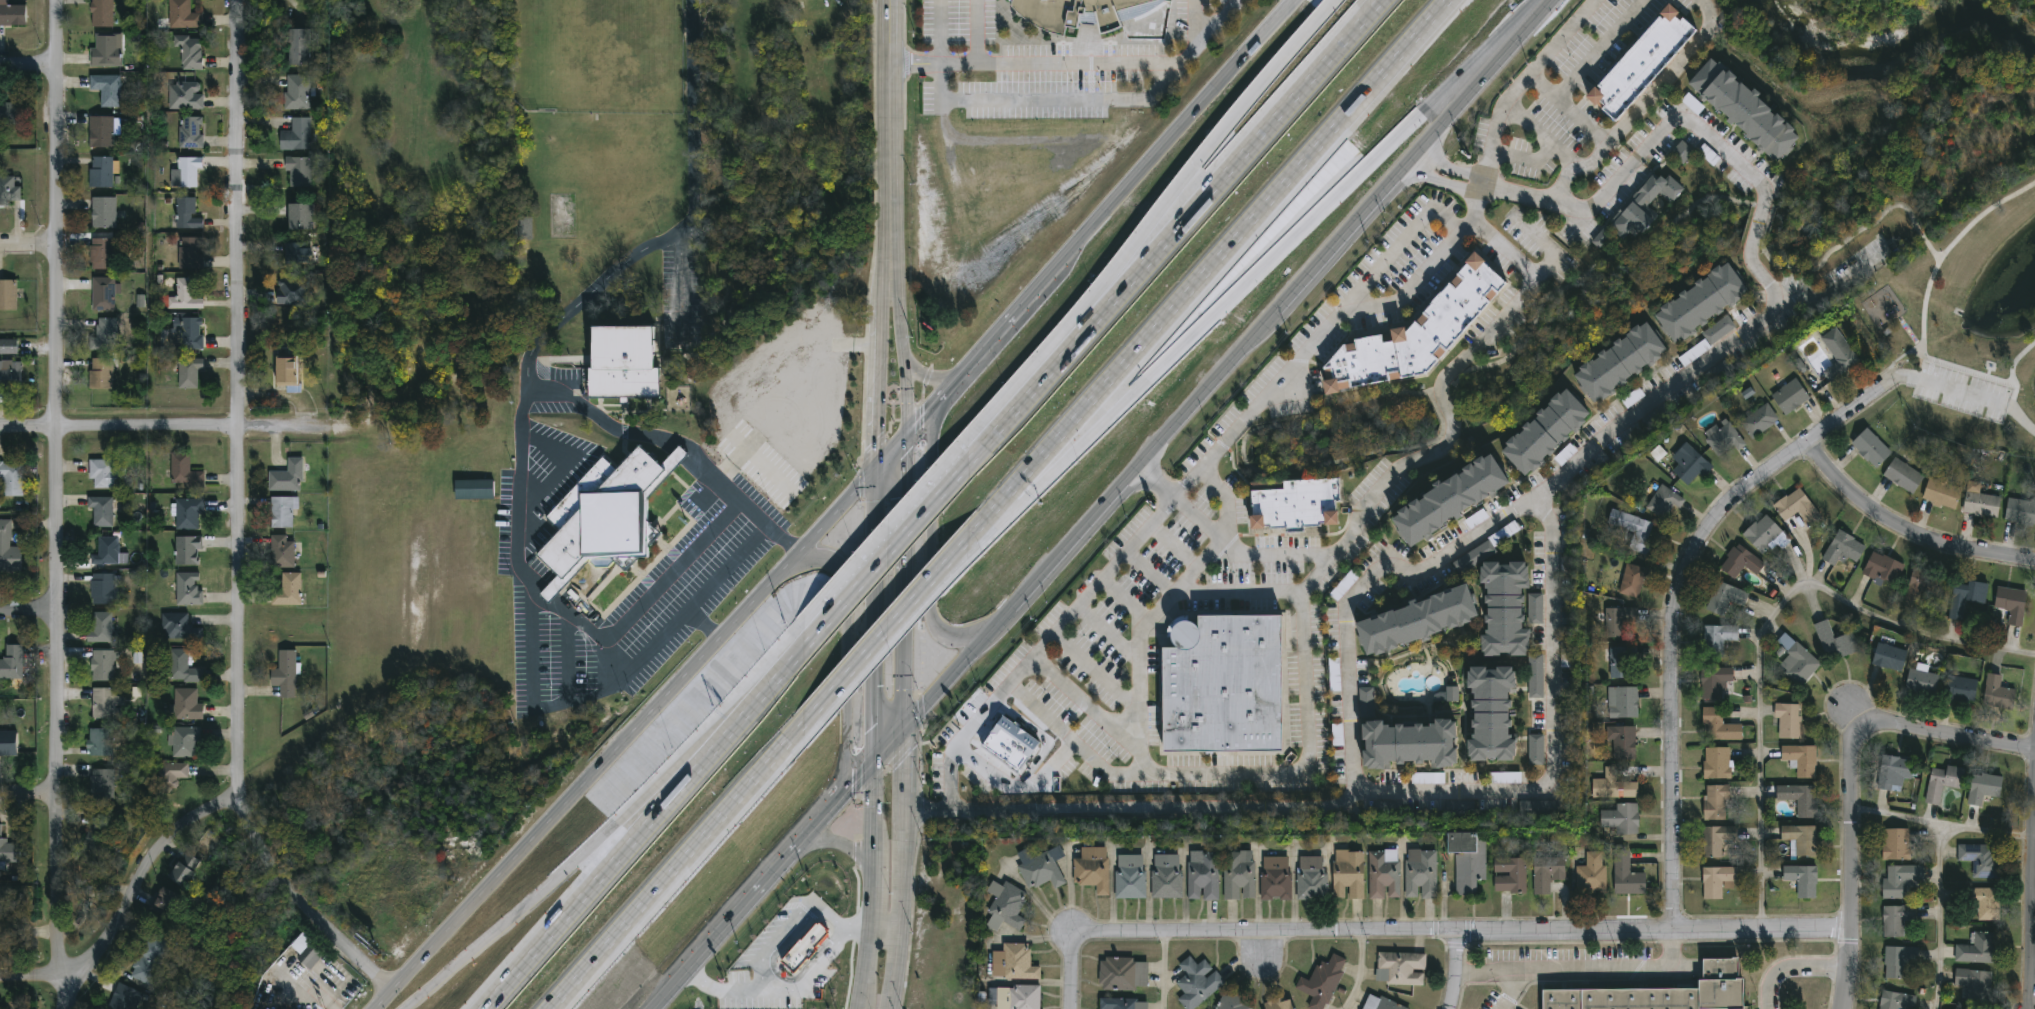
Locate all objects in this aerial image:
building: (1082, 13)
building: (101, 14)
building: (12, 16)
building: (182, 16)
road: (1217, 21)
road: (939, 32)
road: (976, 32)
building: (299, 48)
road: (1601, 49)
building: (106, 52)
building: (189, 52)
road: (27, 63)
building: (1641, 63)
road: (1069, 65)
road: (1484, 76)
road: (1525, 82)
building: (107, 90)
building: (297, 93)
building: (185, 95)
road: (1049, 100)
road: (1647, 106)
road: (1573, 110)
building: (1743, 111)
building: (10, 114)
road: (1179, 124)
building: (101, 133)
building: (191, 134)
road: (1711, 135)
building: (296, 136)
road: (888, 136)
road: (1542, 138)
building: (1682, 152)
road: (1526, 159)
building: (188, 172)
building: (103, 173)
building: (299, 174)
building: (9, 191)
road: (1532, 195)
road: (1168, 199)
road: (1197, 204)
building: (1643, 206)
building: (103, 214)
building: (187, 215)
building: (300, 218)
road: (1766, 225)
road: (1756, 226)
road: (1917, 228)
building: (523, 229)
road: (1344, 231)
building: (1601, 238)
road: (28, 244)
road: (1838, 245)
park: (1797, 246)
road: (1931, 248)
building: (190, 254)
building: (300, 254)
building: (101, 255)
road: (1204, 268)
road: (1261, 271)
road: (1585, 274)
road: (1419, 278)
road: (1034, 291)
building: (293, 292)
building: (104, 294)
building: (8, 296)
building: (184, 297)
building: (1700, 305)
road: (1923, 320)
building: (1718, 330)
building: (189, 333)
building: (1416, 334)
building: (105, 335)
building: (9, 347)
road: (906, 351)
building: (1837, 353)
road: (980, 354)
road: (2015, 358)
road: (1897, 359)
building: (622, 364)
building: (1619, 365)
road: (879, 369)
building: (286, 373)
road: (928, 374)
building: (1719, 374)
building: (101, 375)
building: (189, 375)
building: (11, 377)
road: (1941, 383)
road: (1207, 387)
parking lot: (1963, 390)
road: (788, 392)
building: (1789, 396)
road: (236, 399)
road: (526, 399)
road: (935, 404)
road: (2008, 404)
building: (1758, 420)
road: (172, 427)
traffic signals: (909, 431)
building: (1545, 433)
road: (990, 435)
road: (680, 439)
building: (1723, 439)
building: (1870, 447)
road: (892, 449)
road: (1419, 456)
building: (1690, 466)
traffic signals: (875, 467)
road: (1262, 469)
road: (1570, 469)
building: (185, 474)
building: (1902, 474)
building: (103, 475)
building: (288, 478)
building: (11, 480)
road: (1183, 484)
road: (56, 486)
building: (474, 490)
building: (1941, 493)
building: (1448, 499)
building: (1663, 499)
building: (1979, 501)
road: (929, 504)
building: (1294, 504)
building: (1796, 506)
building: (2020, 508)
building: (101, 512)
building: (283, 513)
building: (605, 514)
building: (188, 515)
building: (1632, 527)
road: (931, 528)
building: (1762, 532)
road: (1900, 535)
road: (1074, 536)
road: (1174, 542)
building: (1842, 547)
building: (188, 551)
building: (106, 553)
building: (282, 553)
building: (1474, 557)
building: (10, 559)
building: (1739, 560)
building: (1882, 567)
road: (1148, 571)
road: (930, 575)
road: (909, 578)
building: (1631, 579)
road: (859, 583)
building: (1922, 583)
road: (1359, 586)
building: (106, 590)
building: (188, 590)
building: (288, 591)
road: (1236, 591)
building: (1964, 595)
road: (1125, 597)
building: (1724, 598)
road: (1160, 603)
building: (2010, 603)
road: (28, 607)
building: (1534, 607)
building: (1504, 609)
road: (875, 613)
road: (1673, 615)
building: (1415, 620)
building: (1619, 621)
road: (703, 624)
building: (179, 627)
building: (101, 628)
road: (1759, 629)
road: (1108, 631)
building: (1716, 637)
building: (1833, 640)
road: (863, 650)
building: (1566, 650)
building: (1888, 655)
road: (567, 656)
road: (619, 656)
road: (844, 657)
building: (1795, 659)
building: (1620, 661)
building: (12, 663)
building: (103, 666)
road: (958, 667)
building: (182, 668)
road: (1097, 668)
building: (284, 674)
road: (780, 674)
building: (1335, 674)
building: (1535, 676)
building: (1713, 680)
building: (1921, 680)
road: (618, 683)
building: (1230, 686)
building: (1960, 687)
building: (1996, 692)
building: (1452, 694)
road: (1083, 699)
building: (1623, 702)
building: (103, 704)
building: (186, 705)
building: (1491, 713)
building: (1787, 718)
building: (1717, 724)
traffic signals: (910, 726)
building: (1337, 734)
road: (626, 738)
building: (1404, 739)
building: (1622, 741)
building: (100, 742)
road: (892, 742)
building: (184, 743)
building: (8, 744)
building: (1009, 748)
building: (1536, 750)
building: (1799, 757)
traffic signals: (875, 760)
building: (1715, 762)
road: (907, 767)
road: (866, 770)
building: (1893, 771)
road: (1252, 772)
building: (169, 775)
building: (1507, 777)
building: (1940, 781)
road: (1855, 784)
building: (102, 785)
road: (1017, 785)
building: (1611, 785)
road: (26, 786)
building: (1983, 786)
building: (1799, 797)
building: (1715, 801)
road: (1265, 802)
road: (928, 807)
road: (963, 807)
building: (1540, 810)
road: (876, 818)
building: (1619, 818)
road: (1944, 823)
building: (0, 830)
building: (99, 837)
building: (1714, 838)
building: (1800, 838)
building: (1896, 842)
road: (842, 845)
road: (691, 847)
building: (9, 853)
building: (1980, 858)
building: (1466, 859)
building: (1040, 866)
road: (610, 867)
building: (1092, 868)
building: (182, 869)
building: (1545, 870)
road: (571, 871)
building: (1591, 871)
building: (1347, 872)
building: (1382, 872)
building: (1420, 872)
building: (1237, 873)
building: (1202, 874)
building: (1509, 874)
building: (1625, 874)
building: (1129, 875)
building: (1165, 875)
building: (1274, 876)
building: (1310, 876)
road: (144, 877)
building: (1801, 878)
building: (1716, 879)
building: (1901, 879)
road: (754, 893)
building: (1984, 900)
road: (2033, 901)
building: (165, 903)
building: (1007, 905)
road: (298, 906)
road: (874, 906)
road: (899, 908)
road: (1940, 915)
road: (830, 917)
building: (1898, 917)
building: (13, 929)
road: (857, 933)
road: (1476, 933)
road: (885, 935)
building: (806, 948)
building: (1976, 948)
building: (305, 952)
building: (148, 960)
building: (1897, 960)
building: (1012, 961)
road: (1067, 962)
road: (1807, 964)
road: (1582, 966)
building: (1399, 967)
road: (1487, 968)
road: (1453, 971)
road: (867, 972)
road: (1163, 972)
building: (1122, 973)
road: (1359, 973)
road: (31, 977)
building: (1321, 980)
building: (1196, 982)
building: (1974, 984)
road: (62, 990)
road: (722, 993)
building: (1660, 993)
road: (1767, 993)
building: (122, 997)
building: (1017, 997)
building: (1895, 1000)
building: (1232, 1001)
building: (1121, 1003)
building: (1278, 1003)
building: (1380, 1003)

